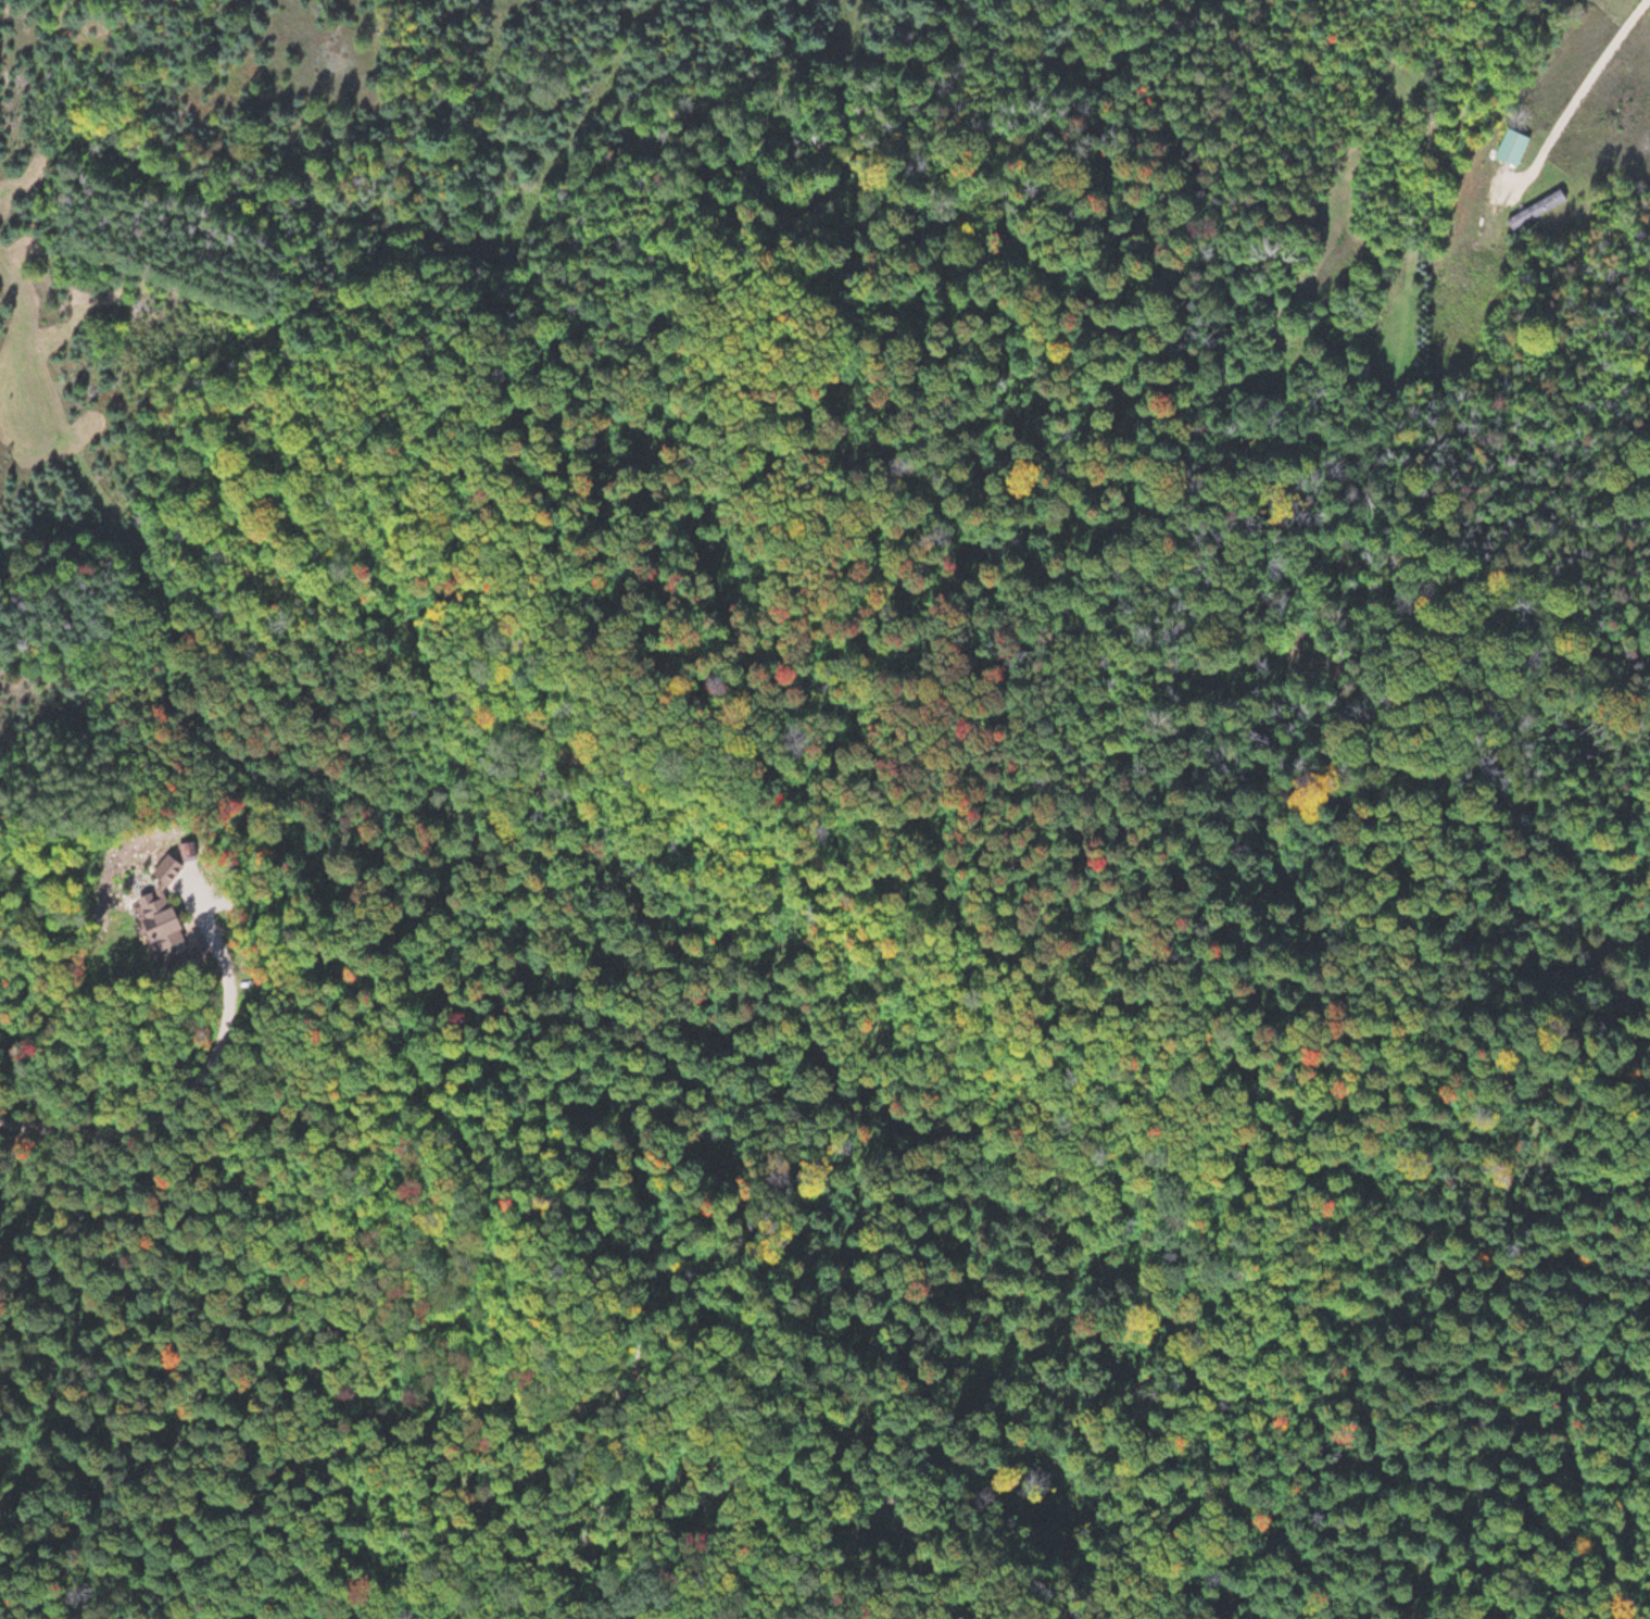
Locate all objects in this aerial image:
building: (1513, 146)
building: (1537, 208)

